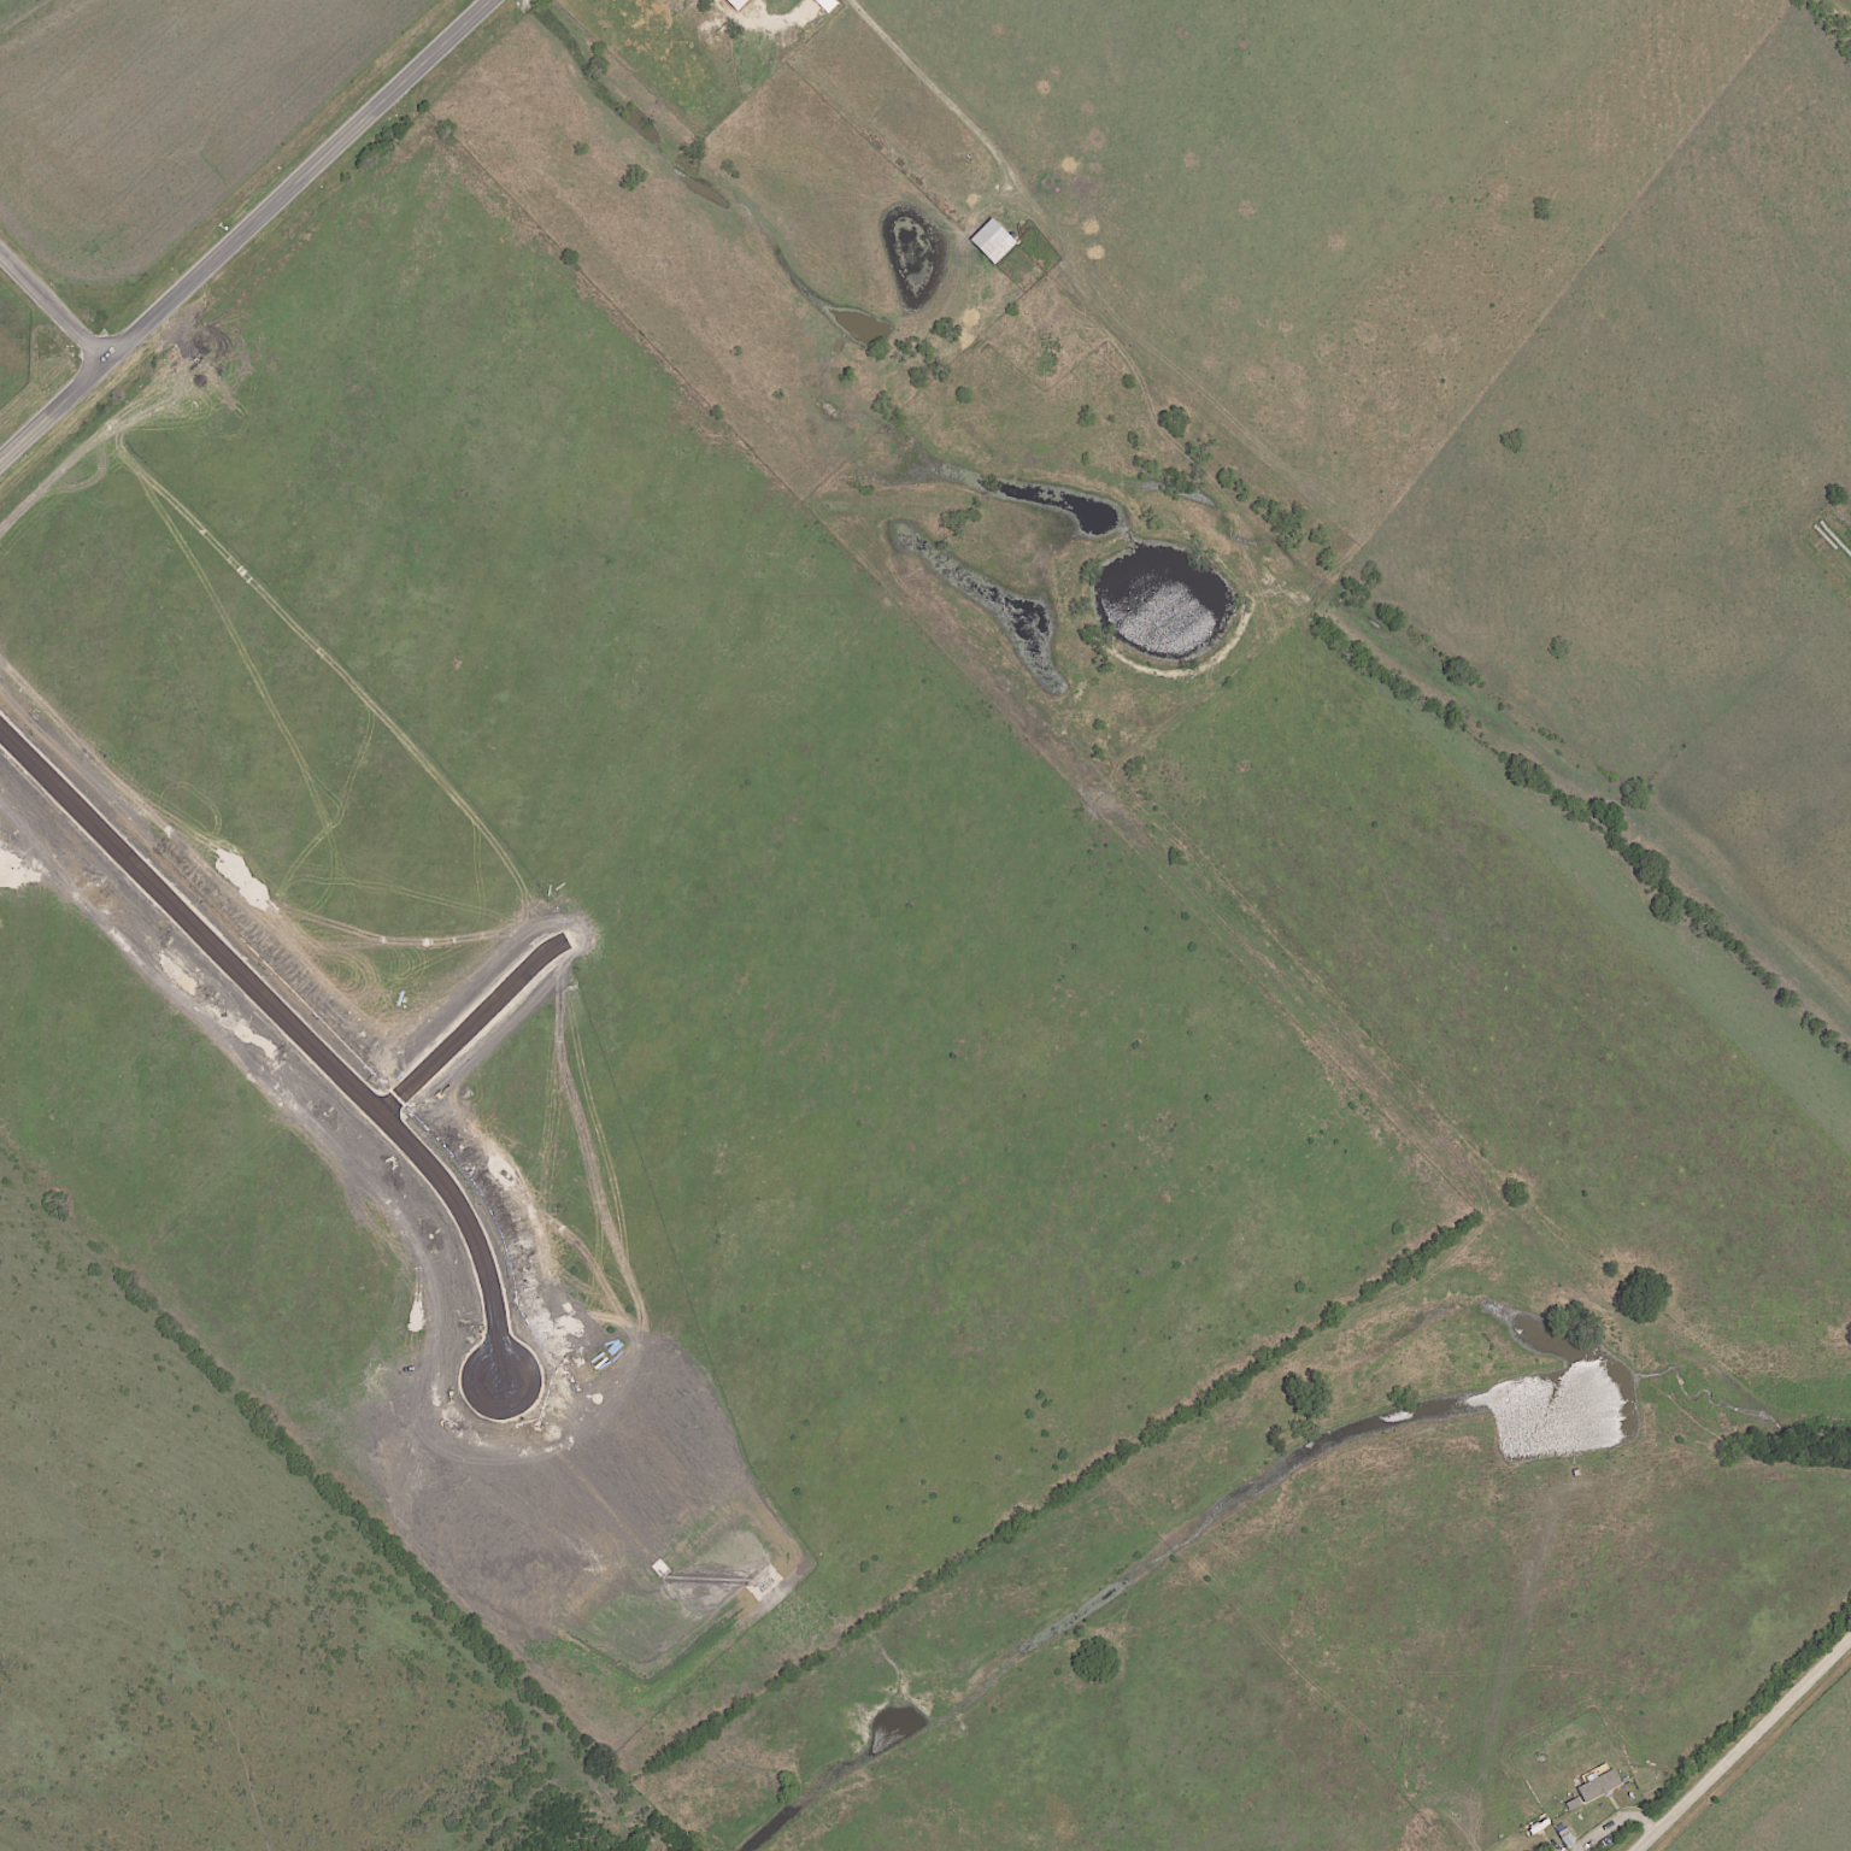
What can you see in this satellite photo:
building: (736, 4)
building: (825, 5)
road: (246, 231)
building: (992, 241)
road: (53, 307)
road: (1744, 1746)
building: (1593, 1788)

